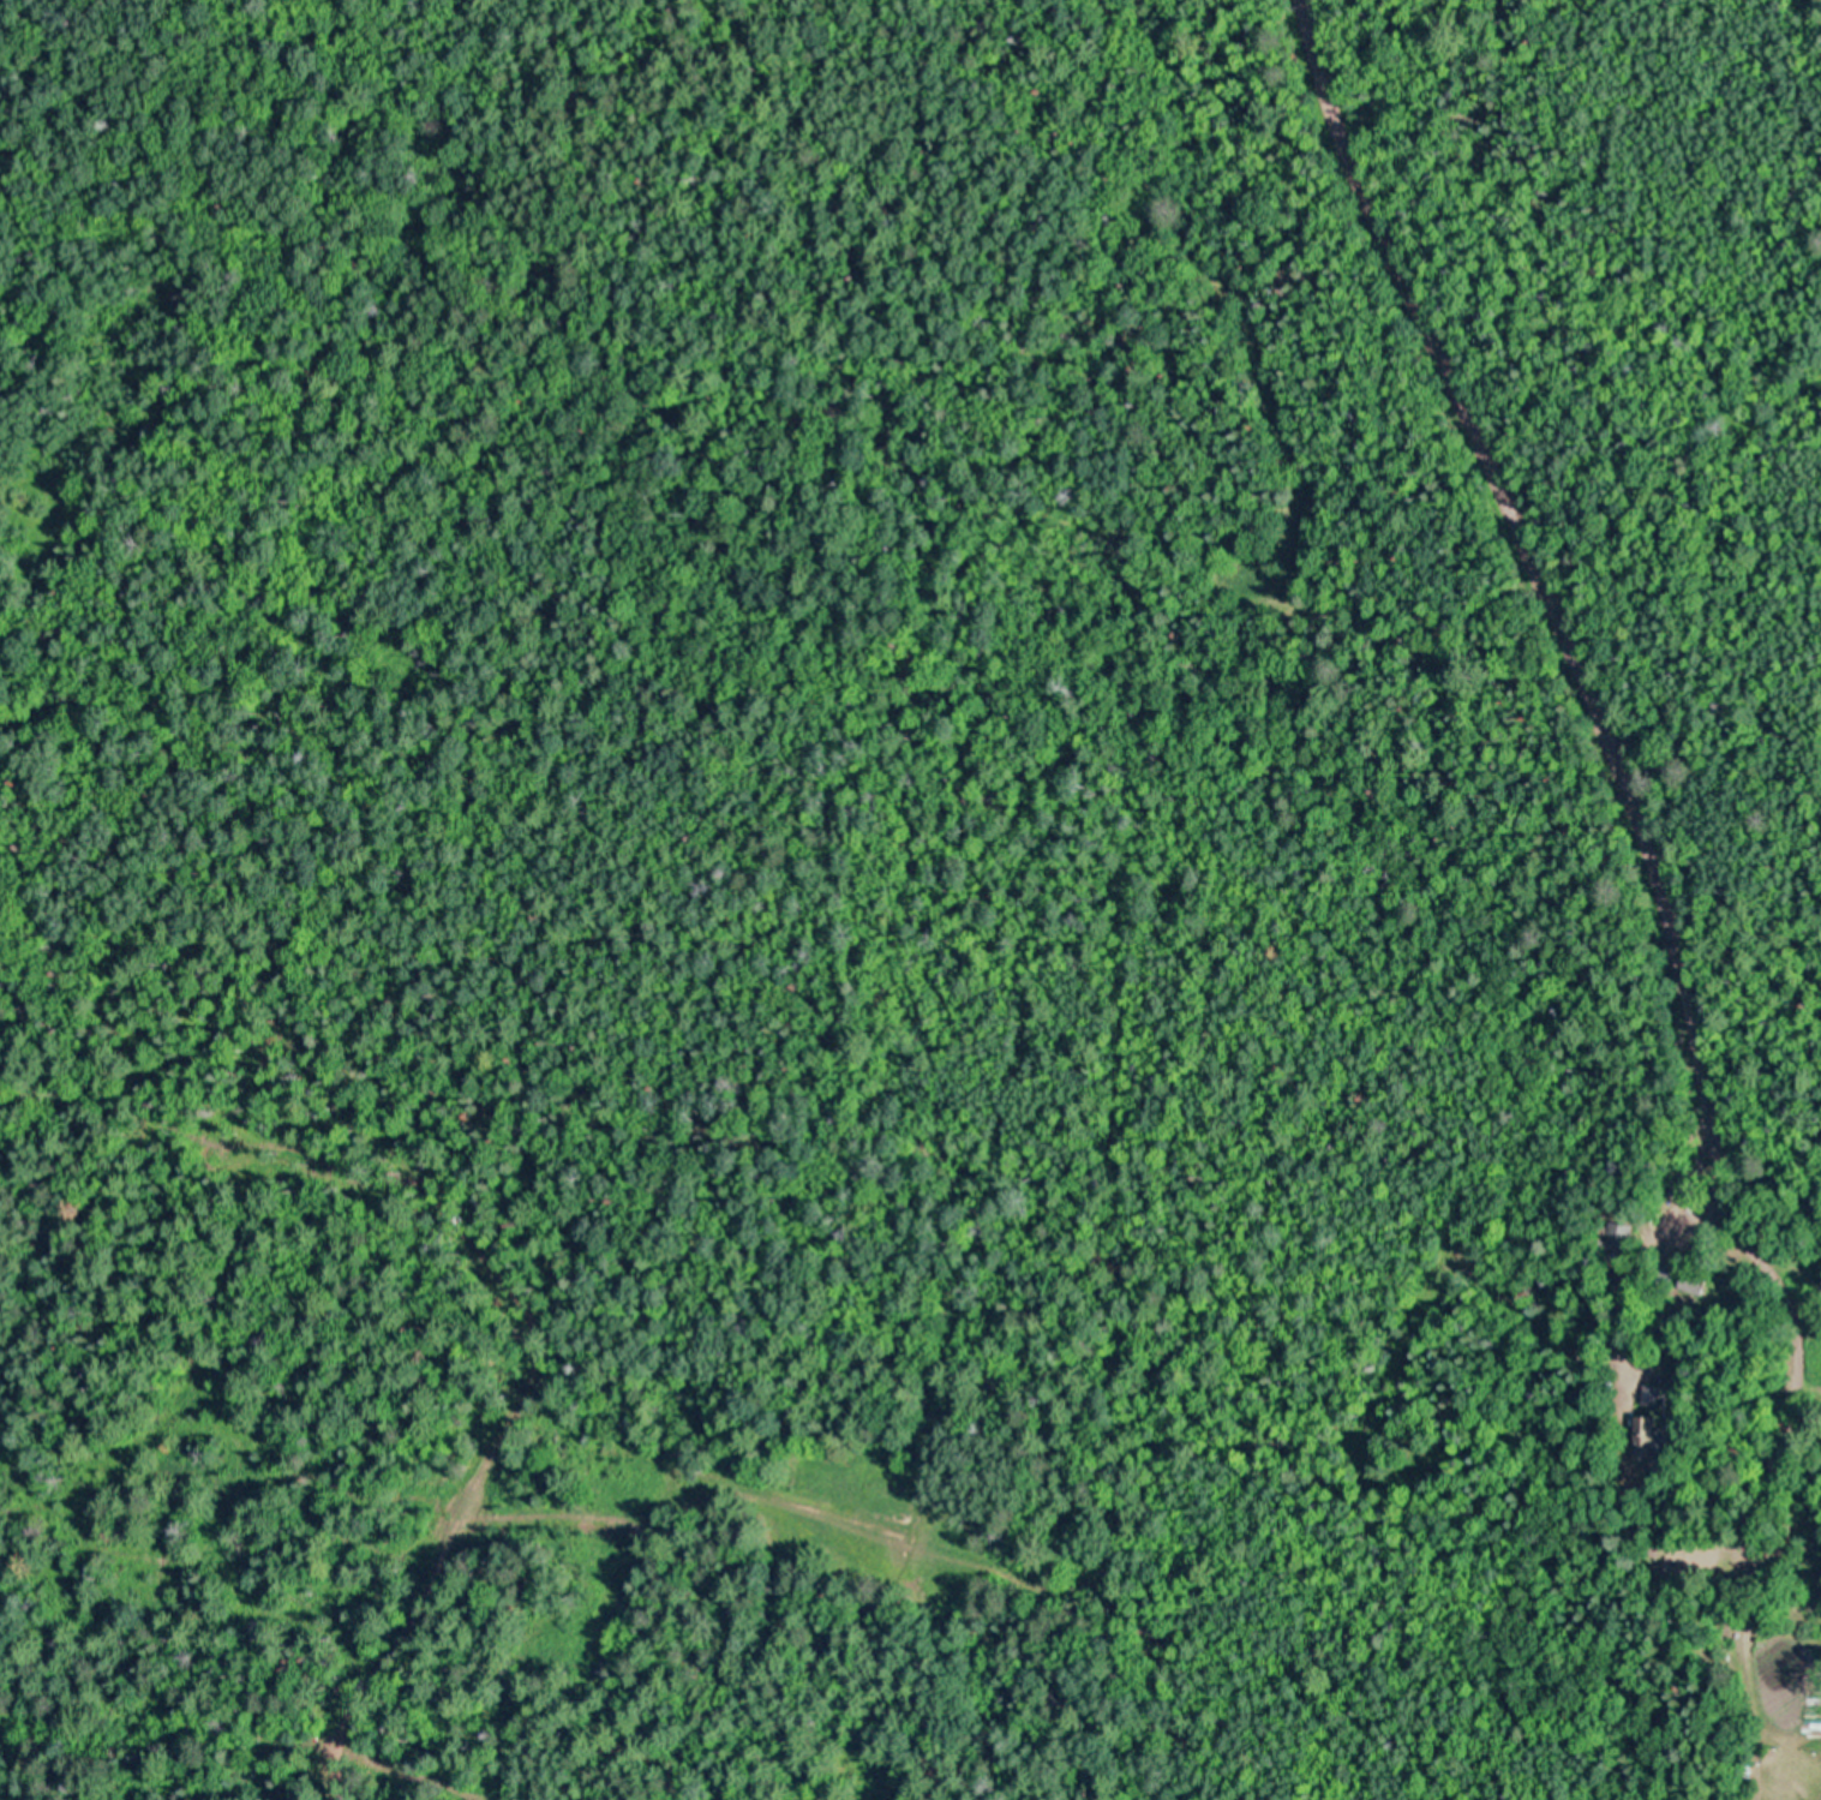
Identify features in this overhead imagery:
road: (1581, 668)
building: (1618, 1240)
building: (1658, 1269)
building: (1695, 1281)
building: (1652, 1394)
building: (1652, 1437)

